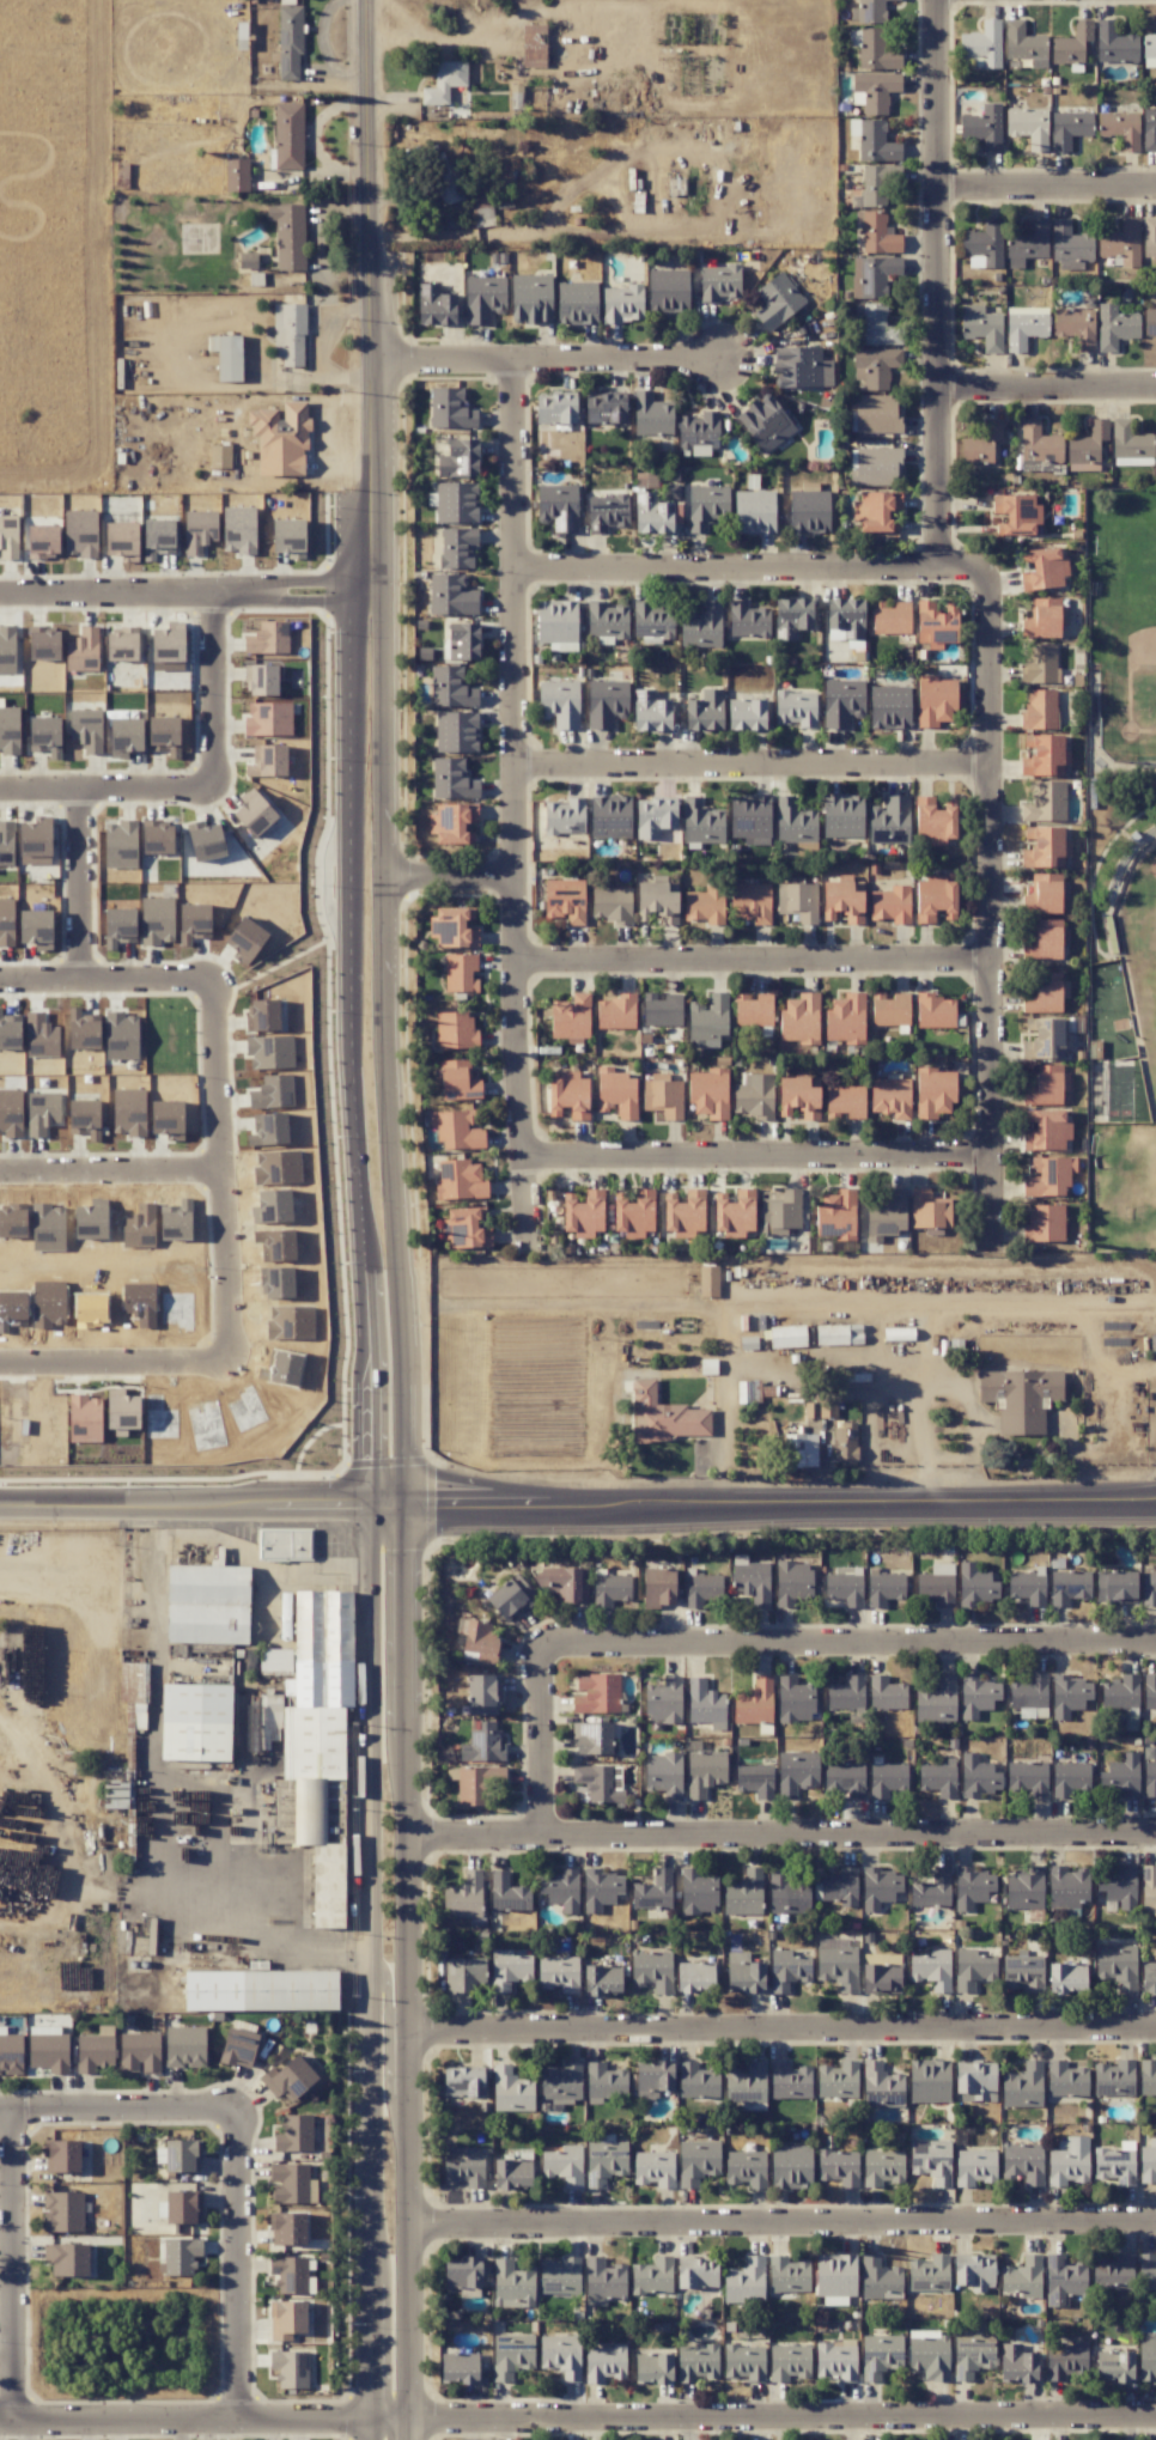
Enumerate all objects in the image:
building: (990, 32)
building: (1020, 41)
building: (290, 43)
building: (534, 45)
building: (876, 51)
building: (444, 83)
building: (875, 91)
building: (982, 127)
building: (1028, 127)
building: (1067, 128)
building: (1149, 129)
building: (288, 135)
building: (876, 142)
building: (236, 175)
building: (877, 183)
road: (1047, 189)
building: (481, 208)
building: (877, 235)
building: (287, 236)
building: (1149, 236)
building: (876, 275)
building: (669, 276)
road: (939, 287)
building: (779, 296)
building: (628, 303)
road: (370, 306)
building: (878, 327)
building: (1075, 327)
building: (1023, 328)
building: (982, 329)
building: (291, 335)
building: (229, 358)
road: (549, 359)
building: (877, 365)
road: (1048, 385)
building: (1032, 428)
building: (280, 439)
building: (980, 444)
building: (220, 455)
building: (706, 509)
building: (876, 510)
building: (607, 513)
building: (1016, 513)
building: (457, 547)
building: (8, 554)
building: (1044, 568)
road: (750, 572)
road: (270, 583)
road: (135, 585)
road: (360, 585)
building: (451, 595)
building: (1042, 619)
building: (464, 641)
building: (1040, 662)
building: (457, 696)
building: (939, 701)
building: (841, 702)
building: (804, 712)
building: (456, 731)
building: (1047, 757)
road: (750, 769)
building: (449, 778)
road: (206, 780)
building: (1045, 802)
road: (515, 804)
building: (945, 832)
building: (1040, 858)
road: (449, 875)
road: (89, 880)
building: (935, 899)
building: (565, 900)
building: (750, 901)
building: (899, 903)
building: (610, 905)
building: (705, 905)
road: (987, 909)
road: (755, 965)
building: (461, 985)
building: (942, 1014)
building: (571, 1017)
building: (455, 1030)
building: (844, 1030)
road: (385, 1045)
road: (357, 1079)
building: (1046, 1085)
building: (933, 1091)
building: (272, 1093)
building: (568, 1095)
building: (890, 1097)
building: (846, 1101)
building: (128, 1112)
building: (42, 1113)
building: (83, 1113)
building: (166, 1116)
building: (272, 1127)
building: (1046, 1130)
road: (756, 1161)
road: (115, 1166)
road: (230, 1172)
building: (1048, 1176)
building: (463, 1185)
building: (931, 1212)
building: (584, 1215)
building: (634, 1215)
building: (683, 1216)
building: (735, 1217)
building: (1045, 1222)
building: (708, 1280)
building: (787, 1335)
road: (893, 1359)
building: (747, 1392)
building: (1020, 1398)
building: (820, 1410)
building: (663, 1416)
road: (976, 1416)
building: (844, 1443)
building: (803, 1456)
road: (769, 1502)
road: (191, 1503)
building: (284, 1543)
building: (1027, 1589)
building: (207, 1602)
road: (401, 1635)
road: (847, 1647)
building: (134, 1681)
building: (932, 1703)
road: (541, 1742)
building: (483, 1744)
building: (312, 1764)
building: (1028, 1778)
building: (1070, 1778)
building: (475, 1783)
road: (778, 1837)
building: (787, 1893)
road: (401, 1912)
road: (255, 1929)
building: (1114, 1963)
building: (932, 1969)
building: (652, 1970)
building: (978, 1971)
building: (510, 1972)
building: (463, 1974)
road: (373, 1994)
road: (388, 2000)
road: (779, 2030)
building: (882, 2082)
road: (401, 2092)
road: (116, 2110)
building: (562, 2164)
building: (284, 2193)
road: (778, 2223)
road: (237, 2264)
road: (13, 2265)
building: (1113, 2272)
building: (511, 2274)
building: (881, 2281)
road: (400, 2296)
building: (561, 2354)
building: (511, 2355)
building: (1065, 2360)
building: (789, 2362)
building: (458, 2368)
road: (778, 2418)
road: (200, 2420)

